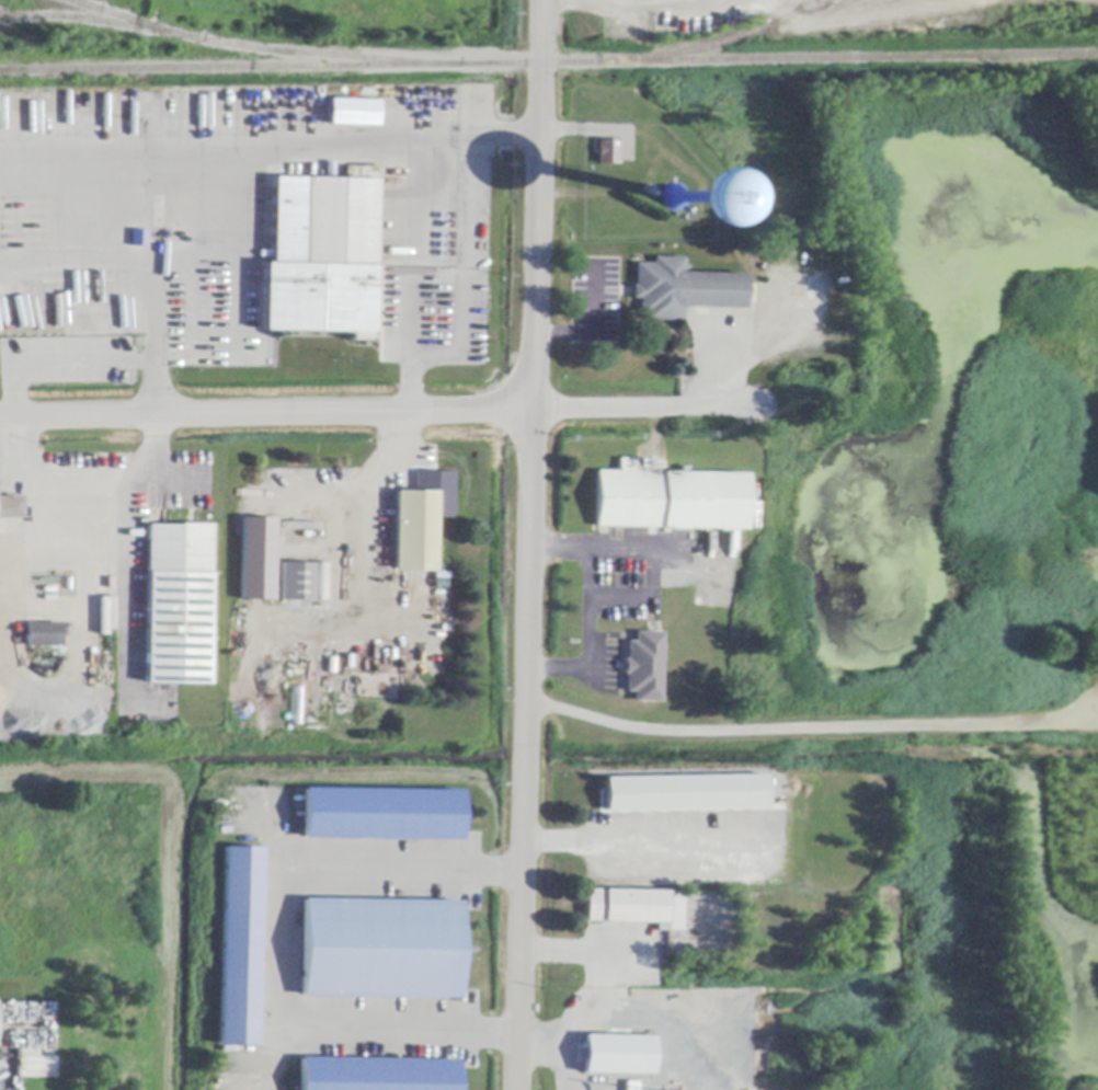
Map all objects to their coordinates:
railway: (89, 3)
railway: (7, 15)
railway: (138, 20)
railway: (717, 43)
railway: (230, 44)
railway: (549, 62)
building: (353, 114)
road: (467, 140)
road: (226, 150)
building: (608, 152)
water tower: (660, 187)
building: (680, 198)
building: (138, 239)
building: (321, 257)
road: (468, 261)
building: (683, 289)
road: (60, 363)
road: (156, 377)
road: (642, 408)
road: (265, 414)
road: (50, 473)
building: (670, 500)
building: (11, 507)
building: (419, 521)
road: (526, 544)
road: (123, 555)
building: (258, 560)
building: (296, 583)
road: (585, 603)
building: (179, 605)
building: (44, 635)
building: (643, 667)
building: (316, 686)
road: (805, 727)
building: (686, 793)
building: (381, 814)
road: (634, 837)
road: (400, 862)
building: (634, 908)
building: (239, 946)
building: (379, 949)
road: (584, 953)
road: (309, 1032)
road: (560, 1051)
building: (617, 1056)
building: (376, 1075)

